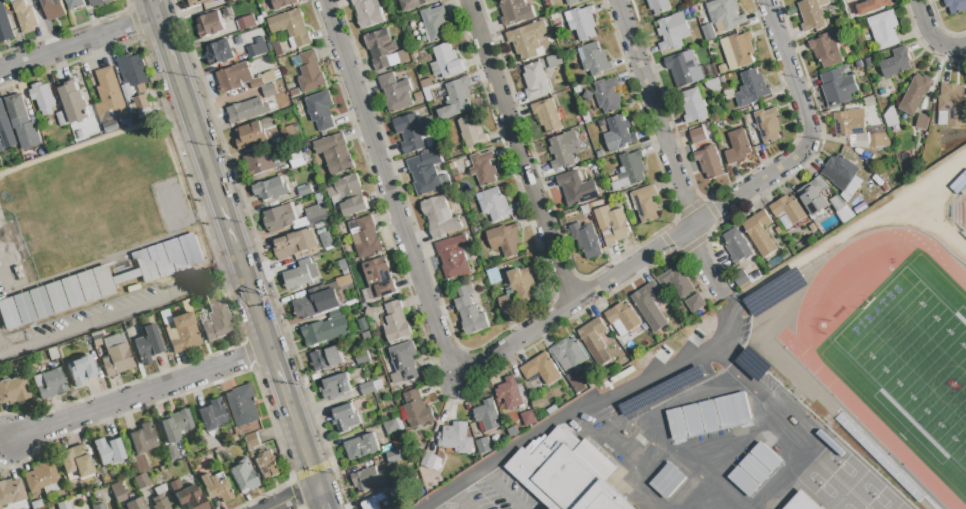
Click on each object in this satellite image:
building: (28, 0)
building: (234, 0)
building: (544, 0)
building: (98, 2)
building: (199, 2)
building: (571, 2)
building: (282, 3)
building: (74, 4)
building: (415, 4)
building: (955, 5)
building: (659, 6)
building: (872, 6)
building: (53, 9)
road: (153, 9)
building: (515, 11)
building: (368, 13)
building: (725, 14)
building: (812, 14)
building: (25, 16)
building: (554, 16)
building: (581, 22)
building: (246, 23)
building: (210, 24)
building: (435, 24)
building: (5, 25)
building: (291, 27)
building: (886, 29)
building: (673, 31)
road: (931, 37)
building: (527, 40)
road: (165, 42)
road: (78, 45)
building: (257, 48)
building: (277, 48)
building: (380, 48)
building: (827, 48)
building: (742, 49)
building: (219, 53)
building: (403, 57)
building: (595, 60)
building: (553, 61)
building: (446, 62)
building: (869, 63)
building: (896, 63)
building: (859, 64)
building: (133, 69)
building: (684, 69)
building: (722, 69)
road: (788, 72)
building: (310, 73)
building: (241, 78)
building: (535, 81)
building: (426, 83)
building: (565, 84)
building: (712, 86)
building: (837, 87)
building: (751, 89)
building: (268, 90)
building: (127, 91)
building: (395, 93)
building: (885, 93)
building: (607, 95)
building: (914, 95)
building: (588, 96)
building: (109, 97)
building: (418, 97)
building: (43, 98)
building: (456, 99)
building: (869, 102)
building: (74, 103)
building: (142, 103)
building: (951, 105)
building: (693, 106)
building: (247, 110)
building: (18, 111)
building: (321, 111)
building: (547, 115)
building: (587, 116)
building: (890, 117)
building: (139, 118)
building: (62, 119)
building: (922, 122)
building: (428, 125)
building: (768, 125)
building: (852, 126)
building: (6, 129)
building: (254, 133)
building: (409, 133)
building: (472, 133)
building: (619, 134)
building: (80, 135)
building: (698, 136)
building: (35, 137)
building: (878, 140)
building: (737, 147)
building: (1, 148)
building: (564, 150)
road: (517, 151)
road: (667, 151)
building: (335, 154)
building: (3, 157)
building: (300, 159)
building: (709, 162)
building: (260, 163)
building: (483, 168)
building: (630, 171)
building: (840, 172)
building: (425, 173)
building: (571, 188)
building: (271, 189)
road: (389, 190)
building: (305, 191)
building: (348, 196)
building: (814, 196)
building: (646, 204)
building: (495, 205)
road: (222, 207)
building: (842, 209)
building: (317, 211)
park: (959, 211)
building: (787, 212)
building: (440, 217)
building: (279, 219)
building: (612, 225)
building: (760, 234)
building: (365, 238)
building: (505, 240)
building: (586, 240)
building: (295, 244)
building: (737, 246)
building: (454, 256)
road: (633, 262)
building: (300, 275)
building: (494, 276)
building: (740, 278)
building: (379, 279)
building: (347, 280)
building: (676, 282)
building: (523, 284)
building: (774, 291)
building: (647, 301)
building: (316, 303)
building: (507, 304)
building: (696, 304)
building: (23, 308)
road: (121, 311)
building: (370, 312)
building: (469, 312)
building: (215, 317)
building: (623, 317)
building: (396, 323)
building: (363, 325)
building: (326, 328)
building: (180, 332)
building: (95, 337)
building: (595, 341)
building: (146, 344)
building: (51, 353)
building: (568, 354)
building: (115, 355)
building: (327, 358)
building: (362, 358)
park: (914, 359)
building: (624, 361)
building: (403, 363)
building: (752, 363)
building: (80, 369)
building: (541, 370)
road: (278, 372)
building: (48, 382)
building: (575, 383)
building: (336, 387)
building: (367, 388)
building: (12, 390)
building: (660, 391)
building: (509, 393)
road: (136, 394)
building: (537, 404)
road: (586, 404)
building: (242, 406)
building: (551, 409)
building: (417, 410)
building: (211, 414)
building: (488, 416)
building: (708, 416)
building: (345, 418)
building: (528, 418)
building: (175, 424)
building: (391, 427)
track: (882, 436)
building: (231, 437)
building: (142, 438)
building: (456, 438)
road: (301, 440)
building: (205, 441)
building: (251, 442)
building: (483, 446)
building: (362, 447)
building: (107, 450)
building: (171, 452)
building: (394, 457)
building: (74, 460)
building: (428, 461)
building: (139, 463)
building: (267, 465)
building: (755, 469)
building: (100, 470)
building: (568, 473)
building: (242, 475)
building: (39, 476)
building: (367, 479)
building: (140, 480)
building: (667, 481)
building: (215, 486)
road: (500, 489)
building: (10, 491)
building: (117, 492)
parking lot: (493, 494)
building: (187, 495)
building: (159, 497)
road: (293, 498)
road: (321, 498)
road: (460, 499)
building: (373, 502)
building: (802, 502)
building: (35, 503)
building: (62, 504)
building: (134, 504)
building: (97, 506)
building: (0, 507)
building: (174, 508)
building: (382, 508)
building: (454, 508)

